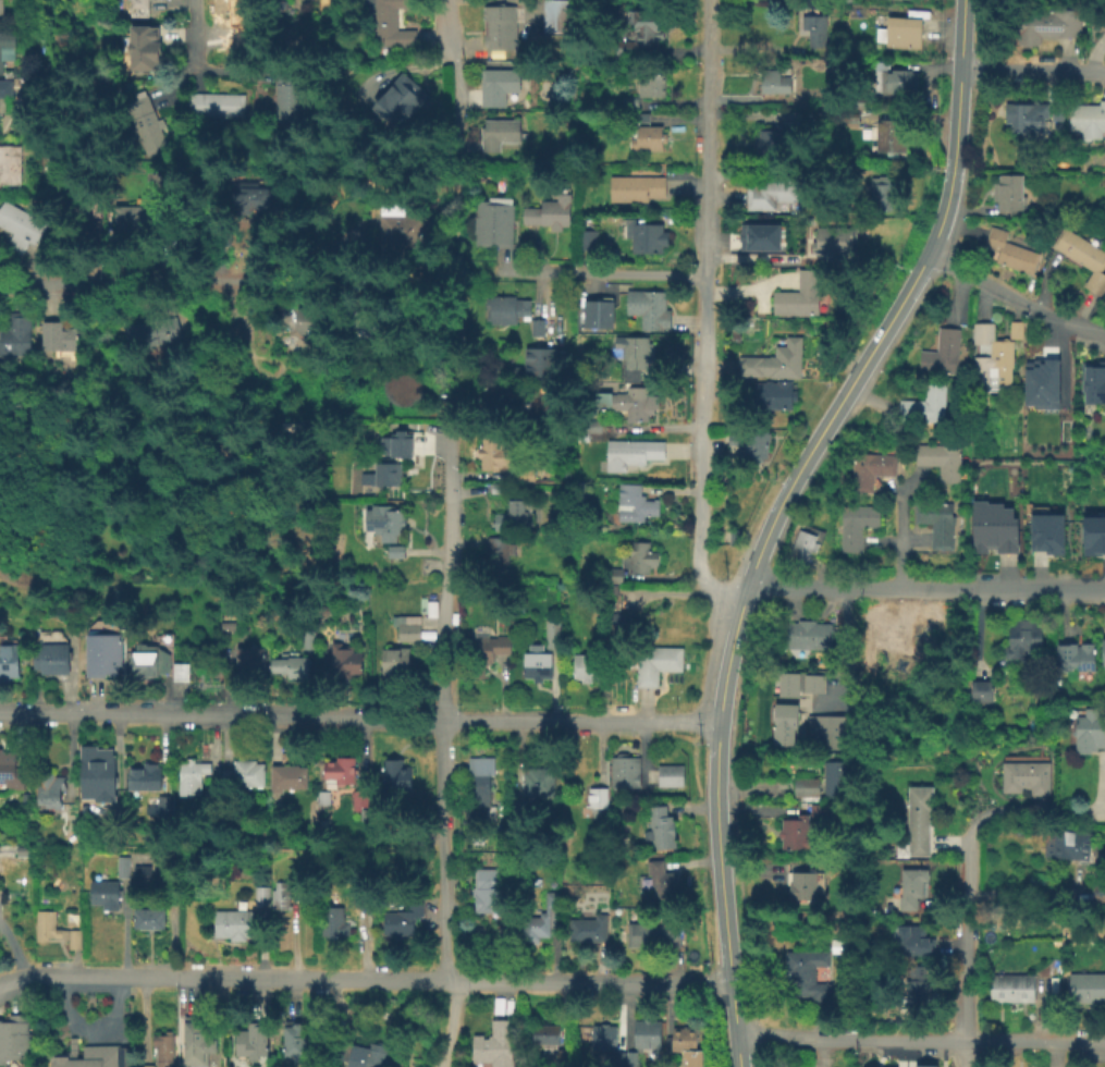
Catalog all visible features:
building: (59, 1)
building: (789, 3)
building: (224, 5)
building: (1, 9)
building: (138, 10)
building: (555, 17)
building: (1046, 23)
building: (394, 25)
road: (195, 28)
building: (500, 29)
building: (898, 30)
building: (815, 34)
building: (640, 36)
building: (148, 46)
building: (7, 47)
building: (222, 51)
road: (1032, 66)
building: (892, 78)
building: (774, 81)
road: (445, 82)
building: (499, 87)
building: (651, 89)
building: (4, 97)
building: (284, 98)
building: (400, 101)
building: (859, 103)
building: (629, 105)
building: (216, 108)
building: (1056, 113)
building: (1024, 115)
building: (1086, 118)
building: (850, 119)
building: (1057, 125)
building: (146, 127)
building: (889, 134)
building: (501, 135)
building: (647, 138)
building: (773, 147)
building: (10, 167)
building: (636, 189)
building: (1007, 191)
building: (769, 195)
building: (882, 195)
building: (257, 198)
building: (551, 214)
building: (134, 221)
building: (495, 225)
building: (19, 230)
building: (87, 235)
building: (222, 235)
building: (401, 235)
building: (760, 236)
building: (646, 240)
building: (834, 242)
building: (587, 243)
building: (1009, 250)
building: (1081, 256)
road: (469, 271)
road: (597, 272)
road: (449, 279)
road: (170, 280)
building: (799, 298)
road: (1011, 303)
building: (648, 308)
building: (506, 312)
building: (598, 314)
road: (702, 314)
building: (300, 320)
building: (538, 329)
building: (152, 330)
building: (16, 334)
building: (56, 341)
building: (942, 351)
building: (993, 352)
building: (637, 356)
building: (776, 359)
building: (542, 360)
building: (1093, 381)
building: (1040, 382)
building: (403, 388)
building: (770, 393)
building: (492, 401)
building: (924, 403)
building: (635, 409)
building: (404, 431)
building: (751, 443)
building: (396, 444)
building: (634, 454)
building: (490, 458)
building: (938, 458)
building: (869, 468)
building: (388, 473)
building: (521, 474)
road: (794, 478)
road: (892, 485)
building: (636, 505)
building: (934, 519)
building: (509, 520)
building: (390, 523)
building: (855, 524)
road: (900, 526)
building: (993, 526)
building: (1045, 531)
building: (1092, 532)
building: (730, 536)
road: (897, 540)
building: (800, 547)
building: (400, 553)
building: (501, 553)
building: (641, 559)
building: (613, 576)
road: (925, 590)
building: (553, 612)
building: (169, 624)
building: (410, 627)
building: (616, 627)
building: (802, 634)
building: (553, 636)
building: (310, 638)
building: (1023, 640)
road: (839, 647)
building: (1103, 650)
building: (56, 652)
building: (107, 654)
building: (488, 655)
building: (1072, 655)
building: (152, 659)
building: (254, 659)
building: (12, 660)
building: (347, 660)
building: (397, 660)
building: (653, 662)
building: (294, 665)
building: (588, 669)
building: (539, 670)
building: (181, 671)
building: (1058, 675)
building: (811, 682)
building: (786, 683)
road: (443, 687)
building: (979, 691)
road: (358, 718)
building: (783, 722)
building: (1089, 728)
building: (828, 732)
building: (623, 769)
building: (342, 770)
building: (13, 771)
building: (98, 774)
building: (667, 774)
building: (148, 776)
building: (246, 776)
building: (1024, 776)
building: (290, 777)
building: (398, 777)
building: (194, 780)
building: (836, 781)
building: (539, 783)
building: (805, 787)
building: (54, 789)
building: (213, 790)
building: (481, 792)
building: (598, 797)
building: (326, 798)
building: (363, 800)
building: (170, 808)
road: (1053, 809)
building: (823, 811)
building: (519, 814)
building: (917, 819)
building: (658, 827)
building: (794, 833)
building: (1066, 843)
building: (0, 850)
building: (25, 851)
building: (123, 868)
building: (143, 874)
building: (656, 880)
building: (802, 883)
building: (489, 884)
building: (911, 887)
building: (108, 895)
building: (261, 896)
building: (282, 897)
building: (364, 902)
building: (148, 919)
building: (404, 919)
building: (543, 920)
building: (333, 922)
building: (234, 925)
building: (589, 931)
building: (54, 932)
building: (651, 933)
building: (913, 939)
road: (966, 939)
building: (835, 945)
road: (14, 951)
building: (805, 973)
road: (22, 979)
road: (389, 979)
building: (911, 982)
building: (998, 986)
building: (1020, 986)
building: (1076, 986)
building: (1093, 986)
road: (451, 1023)
road: (736, 1025)
building: (648, 1034)
building: (604, 1037)
building: (13, 1038)
building: (298, 1040)
road: (921, 1040)
building: (250, 1041)
building: (198, 1042)
building: (494, 1045)
building: (552, 1045)
building: (686, 1045)
building: (164, 1048)
building: (358, 1053)
road: (967, 1054)
building: (90, 1055)
building: (619, 1062)
building: (631, 1062)
building: (146, 1065)
building: (923, 1065)

